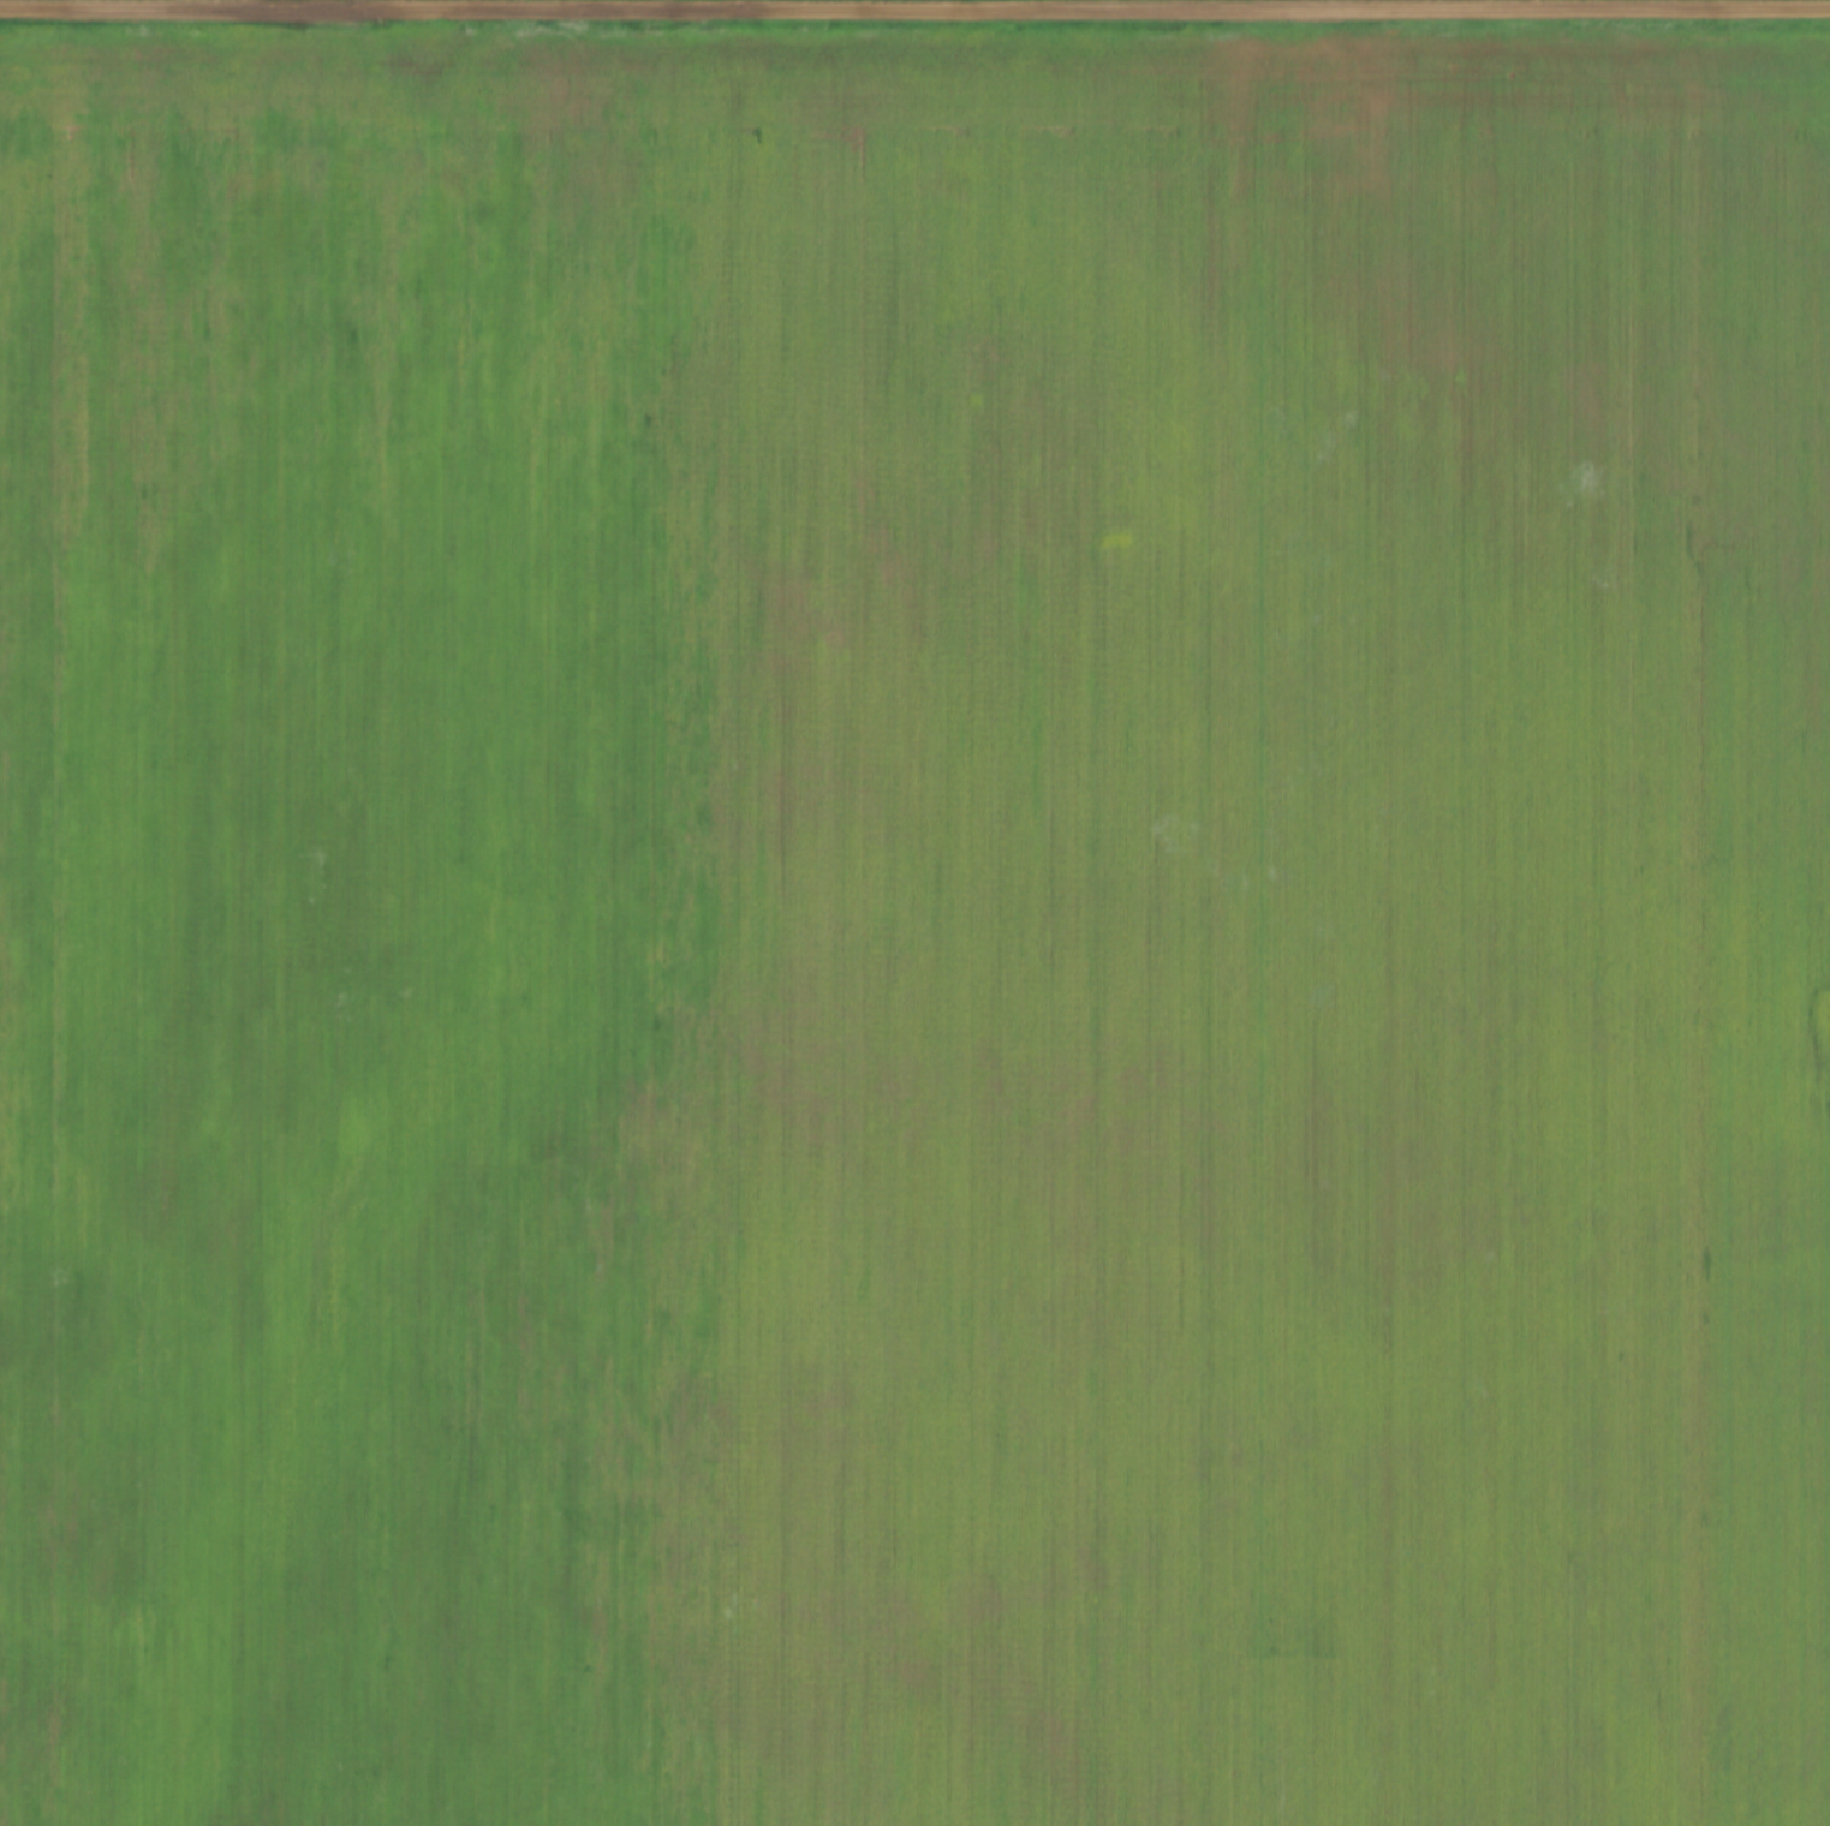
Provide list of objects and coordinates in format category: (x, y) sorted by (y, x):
road: (914, 13)

